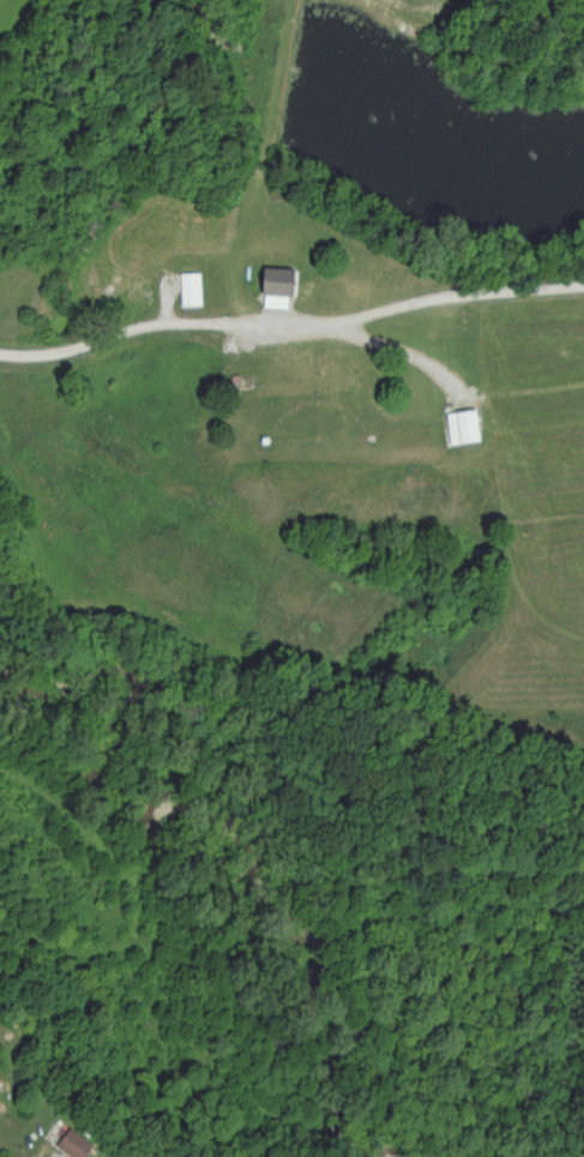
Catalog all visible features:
building: (269, 285)
building: (185, 287)
road: (290, 324)
building: (457, 424)
building: (68, 1141)

